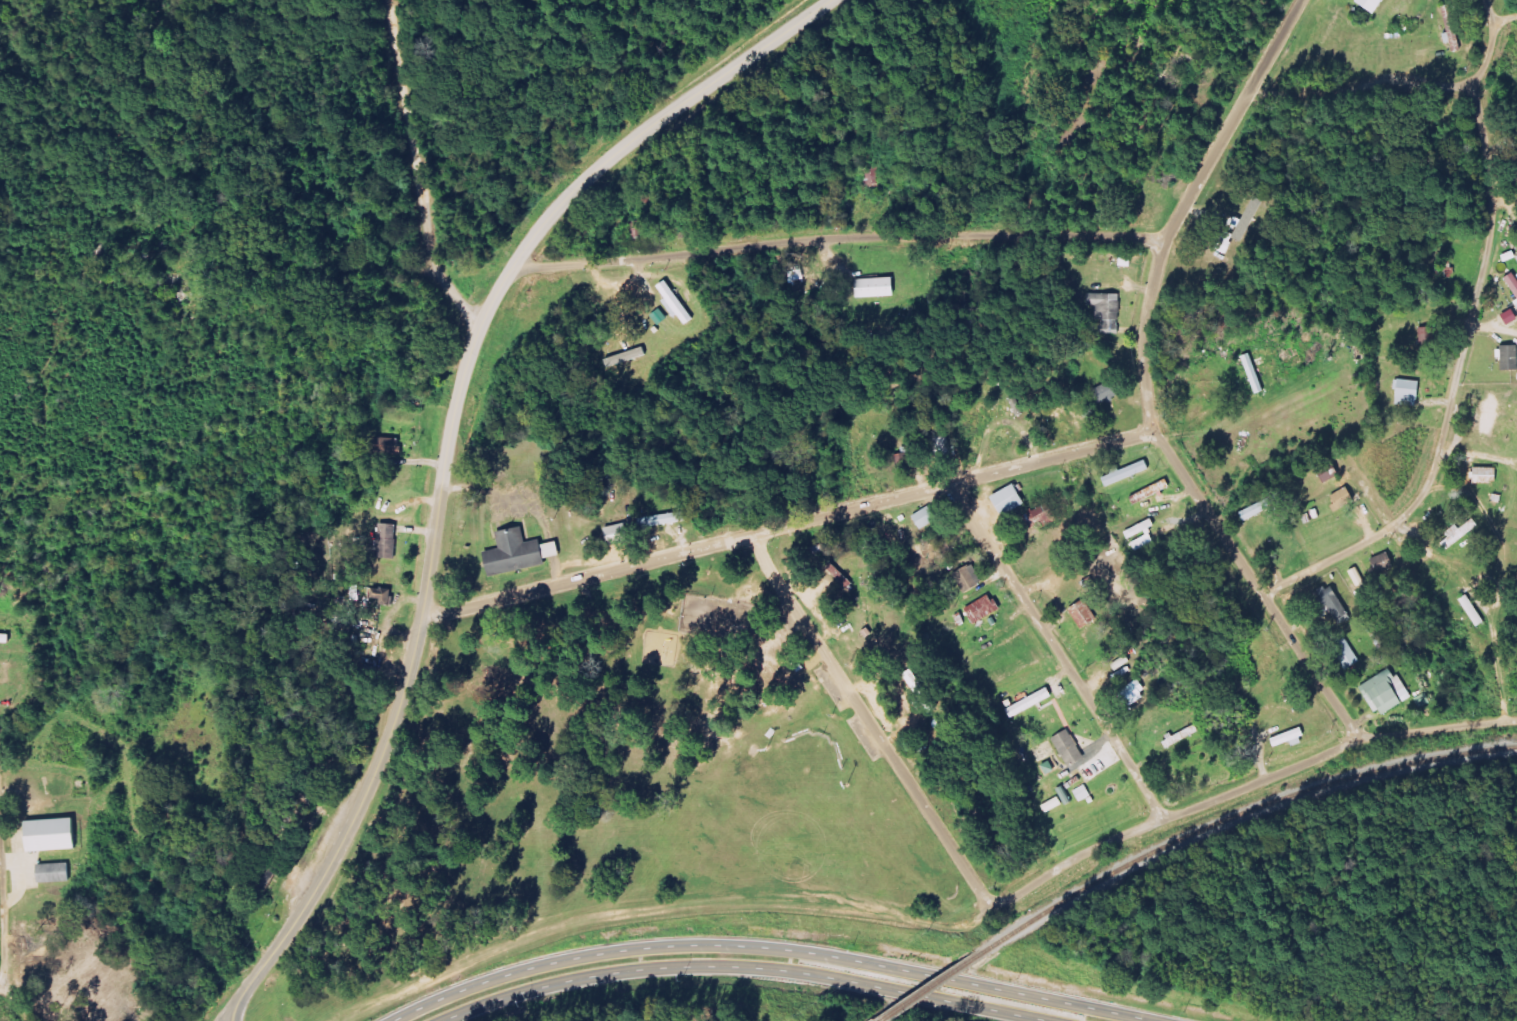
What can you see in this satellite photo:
road: (1505, 20)
building: (1454, 28)
road: (1360, 84)
road: (635, 141)
road: (429, 167)
road: (305, 220)
building: (1243, 226)
building: (641, 228)
road: (838, 237)
building: (1128, 262)
road: (1483, 270)
building: (1514, 280)
building: (878, 287)
building: (678, 304)
building: (1110, 311)
building: (1431, 339)
building: (1511, 357)
road: (1148, 382)
building: (1109, 393)
building: (1410, 393)
building: (389, 446)
building: (945, 446)
building: (1129, 473)
building: (1488, 475)
building: (1153, 492)
building: (1346, 498)
building: (1012, 500)
building: (1259, 510)
building: (928, 517)
building: (1044, 517)
building: (666, 519)
road: (789, 523)
building: (1463, 533)
building: (620, 535)
building: (1144, 535)
building: (390, 541)
building: (523, 552)
road: (1327, 559)
building: (1386, 563)
building: (972, 578)
building: (385, 595)
building: (1336, 603)
building: (985, 610)
building: (1475, 611)
building: (1086, 614)
road: (1451, 621)
road: (1057, 650)
building: (1350, 654)
building: (918, 682)
road: (403, 691)
building: (1389, 692)
building: (1135, 693)
building: (1033, 702)
road: (869, 721)
building: (1292, 738)
building: (1072, 748)
road: (1247, 784)
building: (1085, 793)
railway: (1244, 810)
building: (54, 835)
building: (57, 873)
road: (659, 911)
road: (2, 936)
road: (765, 946)
road: (745, 966)
railway: (939, 981)
road: (2, 985)
road: (16, 1002)
road: (228, 1013)

